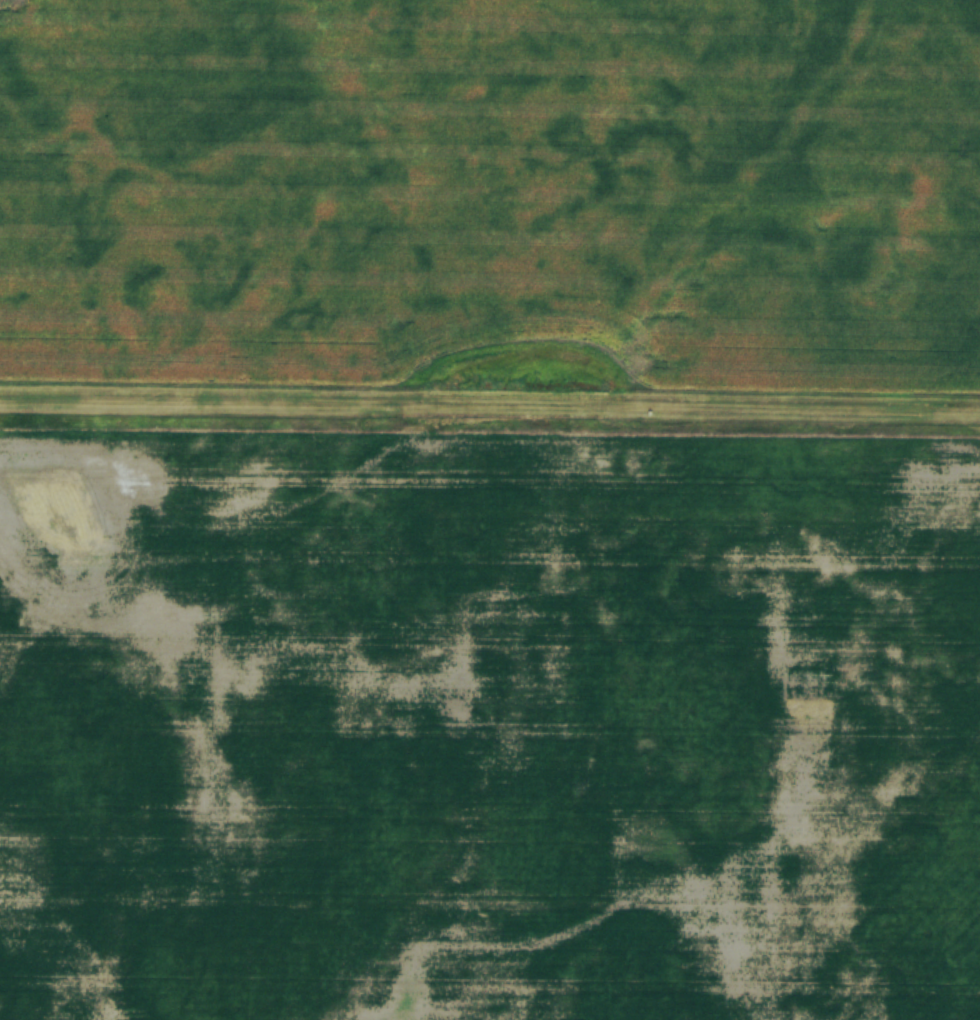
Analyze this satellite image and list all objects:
road: (490, 397)

